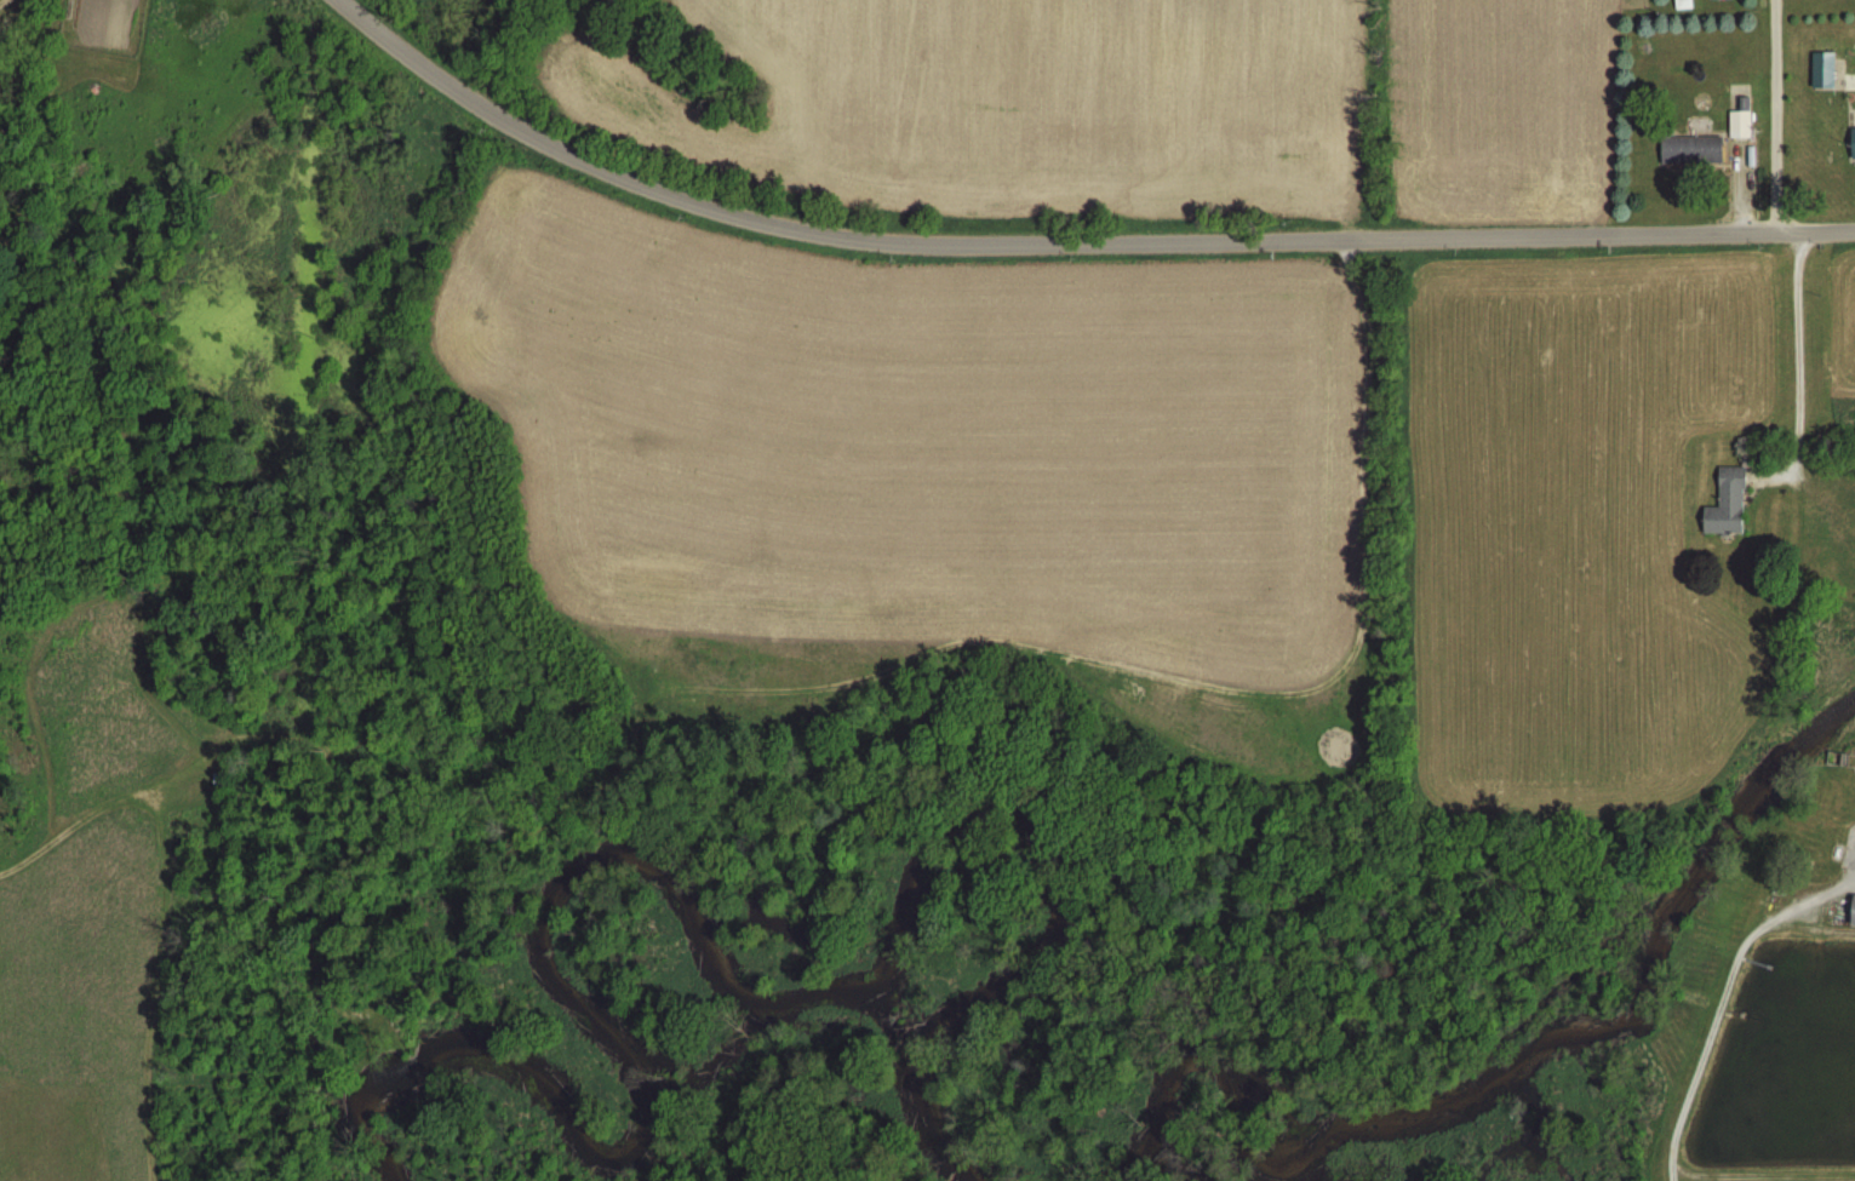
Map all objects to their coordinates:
building: (1822, 69)
building: (1739, 124)
building: (1851, 142)
building: (1688, 148)
road: (1067, 242)
road: (1800, 414)
building: (1725, 504)
building: (1851, 911)
river: (695, 921)
river: (1519, 1073)

